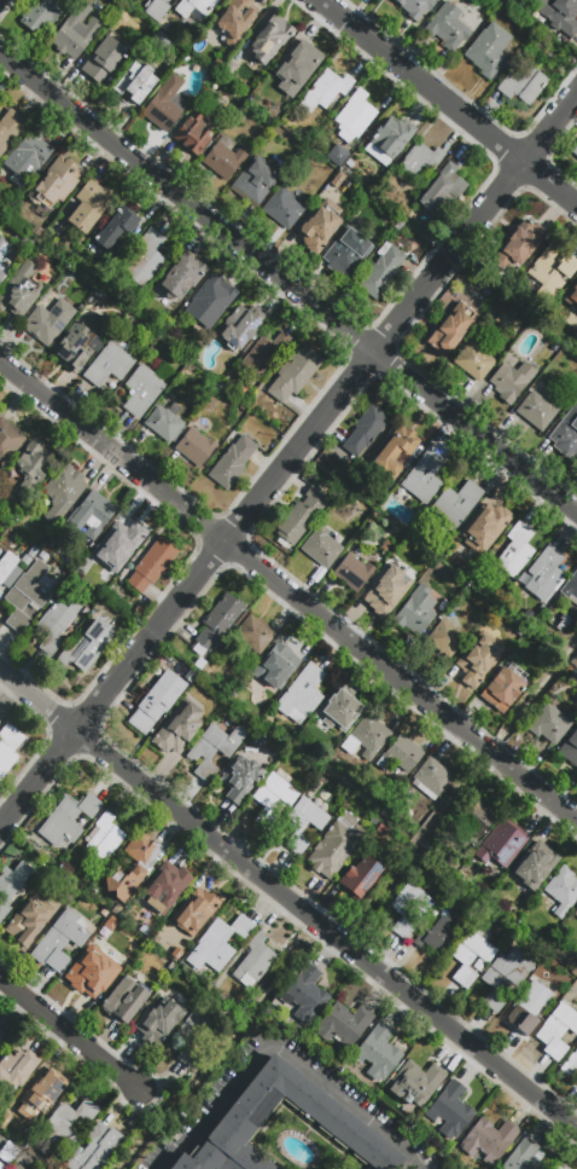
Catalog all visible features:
building: (194, 7)
building: (415, 7)
building: (155, 8)
building: (42, 12)
building: (559, 15)
building: (233, 21)
building: (448, 25)
building: (75, 31)
building: (270, 39)
building: (488, 50)
building: (104, 57)
building: (217, 64)
building: (296, 66)
building: (228, 69)
building: (134, 83)
building: (524, 85)
building: (325, 89)
road: (448, 100)
building: (163, 104)
building: (354, 115)
building: (10, 127)
building: (193, 135)
building: (389, 140)
building: (575, 149)
building: (337, 155)
building: (25, 158)
building: (221, 160)
building: (420, 160)
building: (53, 183)
building: (253, 183)
building: (441, 189)
building: (89, 207)
building: (282, 209)
building: (320, 225)
building: (116, 231)
building: (1, 239)
building: (519, 242)
building: (346, 251)
building: (146, 259)
building: (381, 271)
building: (552, 272)
building: (1, 273)
building: (180, 279)
building: (1, 280)
road: (287, 282)
building: (21, 290)
building: (571, 295)
building: (210, 302)
road: (400, 316)
building: (47, 322)
building: (239, 326)
building: (450, 329)
building: (72, 346)
building: (262, 355)
building: (473, 361)
building: (109, 364)
building: (293, 372)
building: (511, 381)
building: (141, 390)
building: (537, 409)
building: (165, 422)
building: (363, 429)
building: (566, 433)
building: (8, 440)
building: (401, 442)
building: (194, 446)
road: (111, 451)
building: (232, 462)
building: (576, 468)
building: (34, 470)
building: (424, 476)
building: (63, 492)
building: (456, 502)
building: (89, 515)
building: (301, 515)
building: (484, 527)
building: (124, 536)
building: (321, 546)
building: (515, 549)
building: (6, 565)
building: (151, 567)
building: (352, 572)
building: (544, 573)
building: (570, 586)
building: (387, 589)
building: (0, 592)
building: (25, 594)
building: (416, 610)
building: (217, 621)
building: (54, 624)
building: (253, 633)
building: (443, 638)
building: (87, 646)
building: (477, 659)
building: (279, 665)
road: (400, 678)
road: (112, 682)
building: (501, 690)
building: (299, 694)
building: (156, 701)
building: (340, 711)
building: (549, 724)
building: (177, 729)
building: (369, 734)
building: (8, 747)
building: (569, 747)
building: (214, 750)
building: (400, 756)
building: (435, 777)
building: (243, 779)
building: (272, 797)
building: (476, 817)
building: (68, 818)
building: (302, 823)
building: (105, 837)
building: (501, 844)
building: (334, 847)
building: (130, 864)
building: (535, 864)
building: (360, 875)
building: (11, 882)
building: (164, 887)
building: (563, 890)
road: (287, 898)
building: (409, 908)
building: (194, 910)
building: (575, 915)
building: (28, 920)
building: (437, 933)
building: (59, 941)
building: (217, 942)
building: (470, 956)
building: (252, 961)
building: (505, 974)
building: (82, 980)
building: (304, 994)
building: (122, 1000)
building: (528, 1006)
building: (158, 1023)
building: (343, 1024)
building: (558, 1029)
building: (197, 1031)
road: (69, 1034)
building: (2, 1037)
road: (278, 1049)
building: (378, 1052)
building: (570, 1065)
building: (14, 1066)
building: (415, 1082)
building: (40, 1096)
building: (450, 1109)
building: (327, 1115)
building: (69, 1121)
building: (488, 1139)
building: (95, 1147)
building: (7, 1151)
building: (521, 1157)
building: (205, 1158)
building: (1, 1167)
building: (17, 1167)

